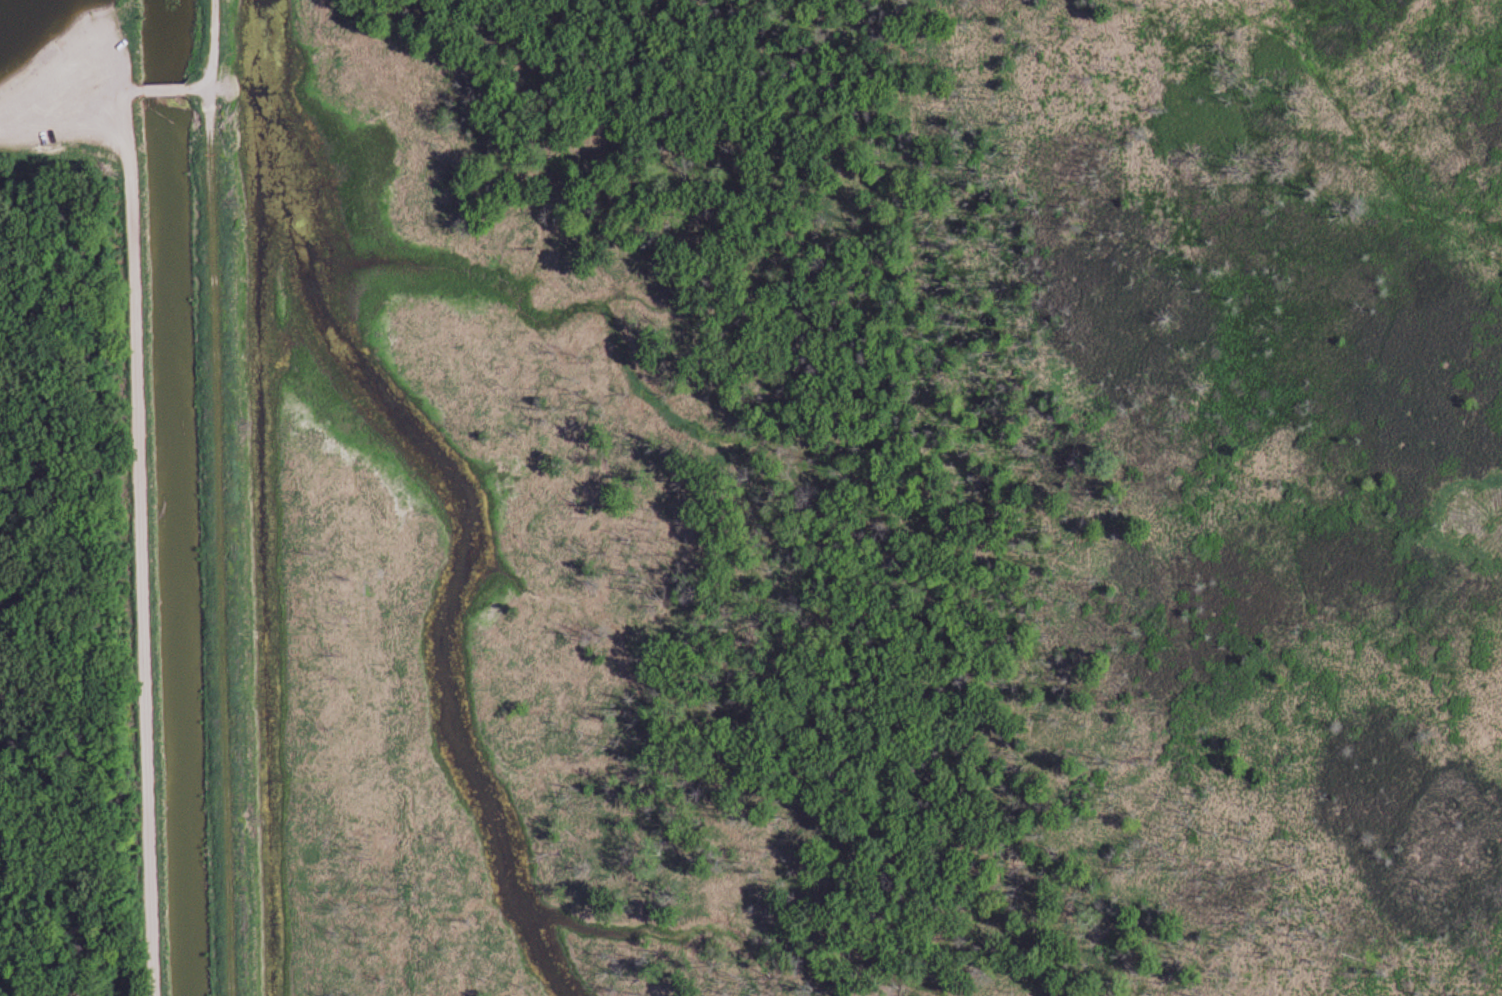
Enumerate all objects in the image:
river: (9, 11)
road: (130, 497)

